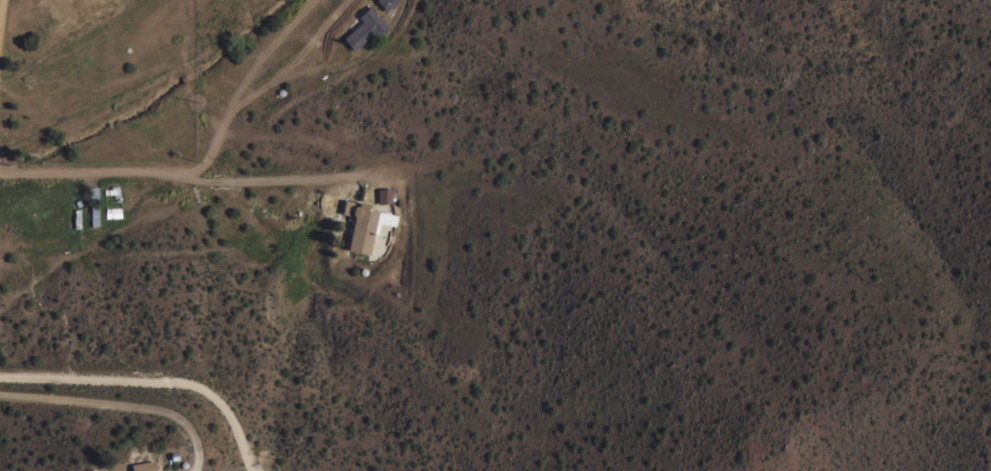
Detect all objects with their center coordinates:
building: (386, 3)
building: (365, 27)
road: (204, 167)
road: (280, 179)
building: (384, 196)
building: (364, 224)
road: (157, 374)
road: (127, 397)
building: (141, 462)
building: (90, 470)

